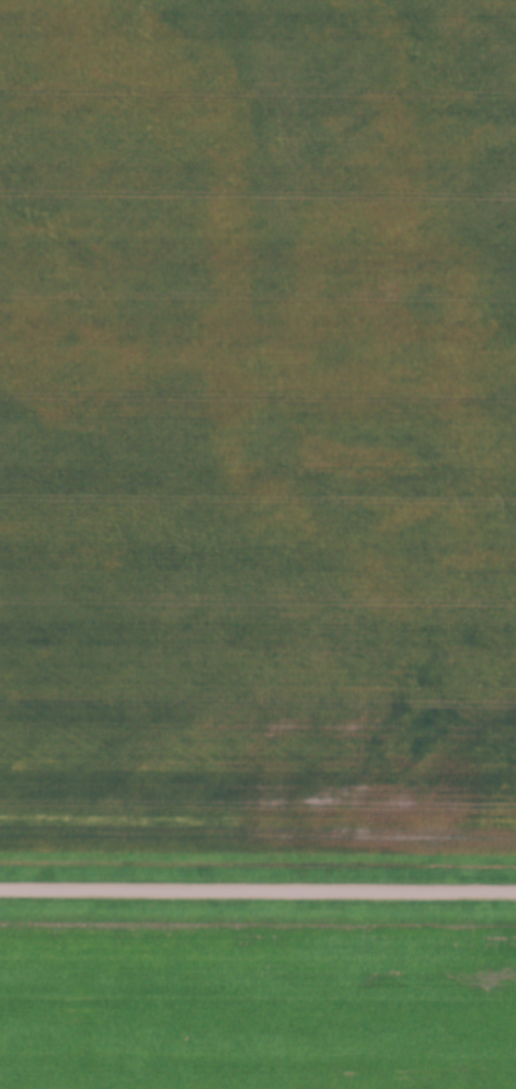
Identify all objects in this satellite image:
road: (257, 892)

